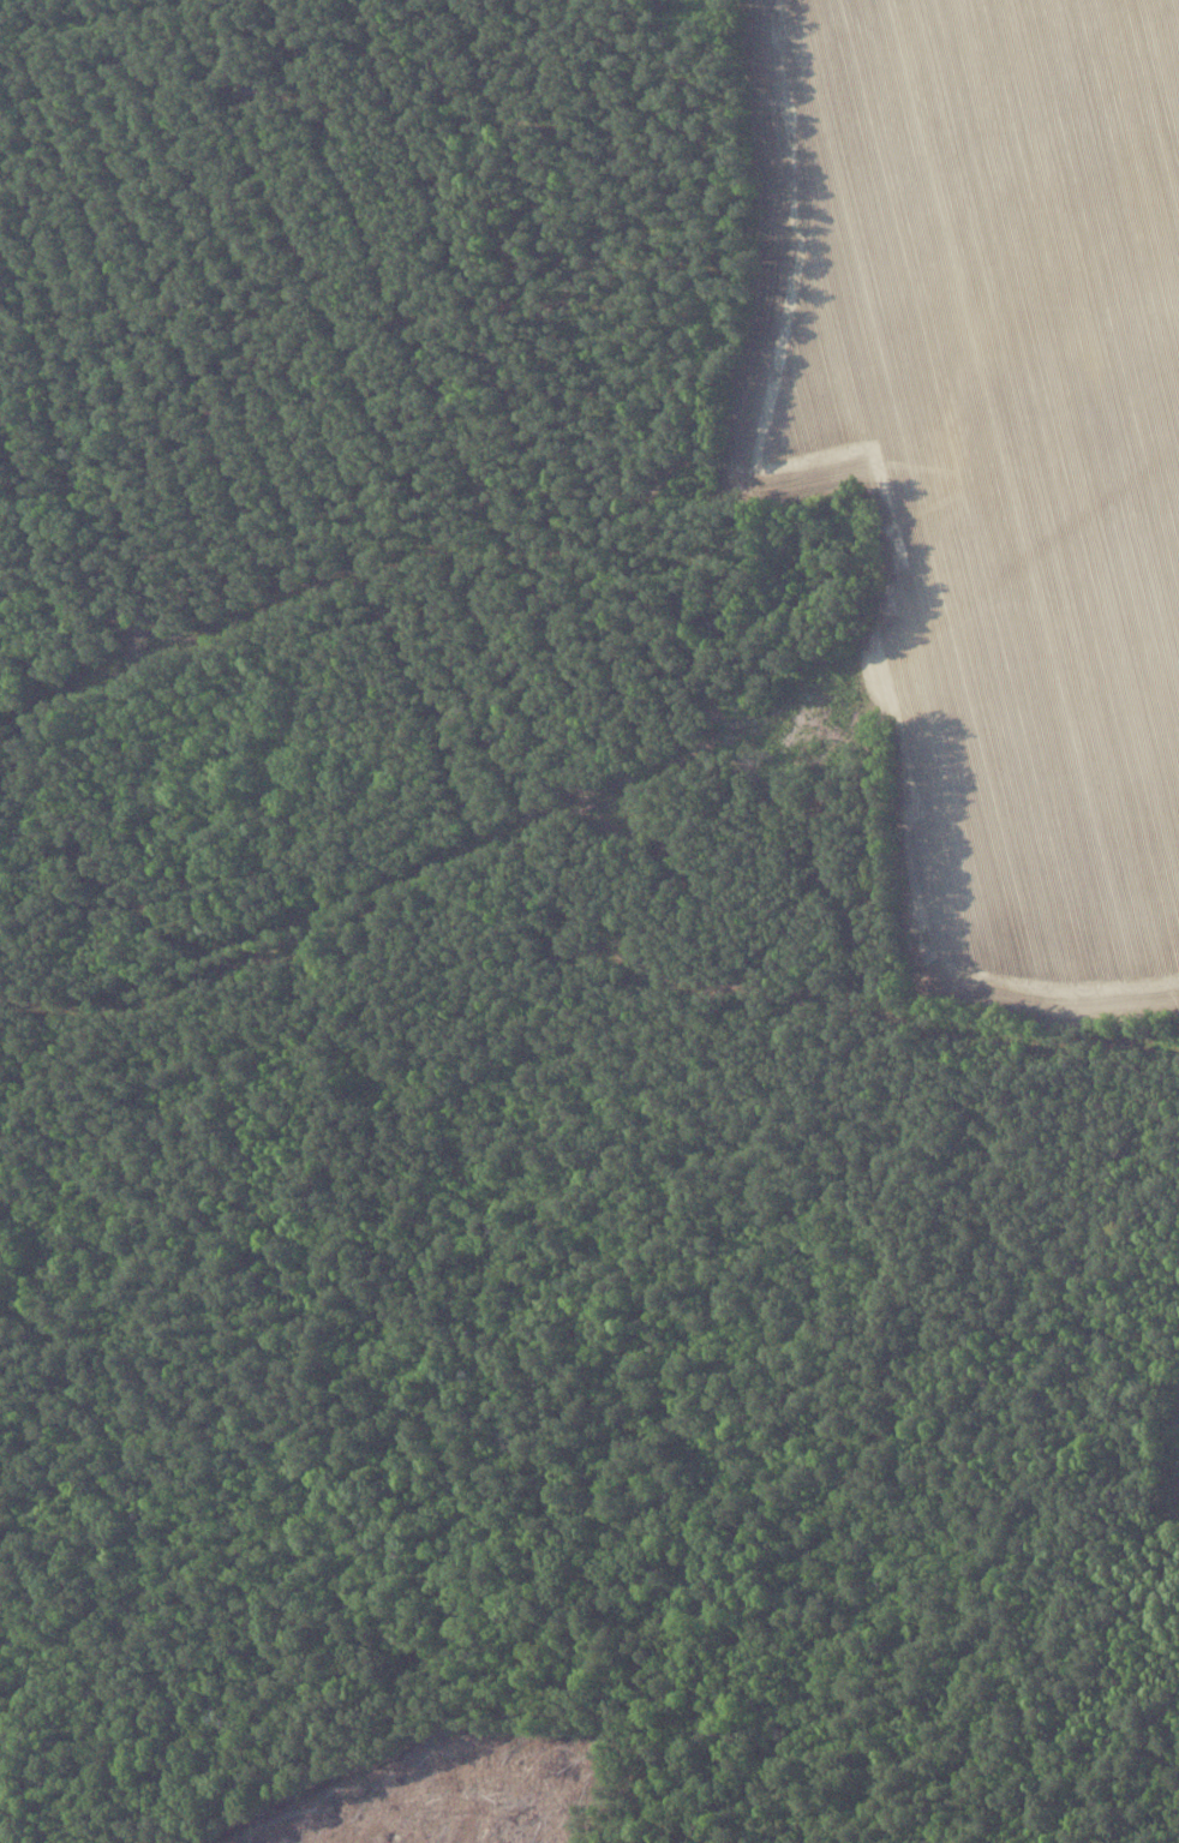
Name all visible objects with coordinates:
crop: (995, 453)

